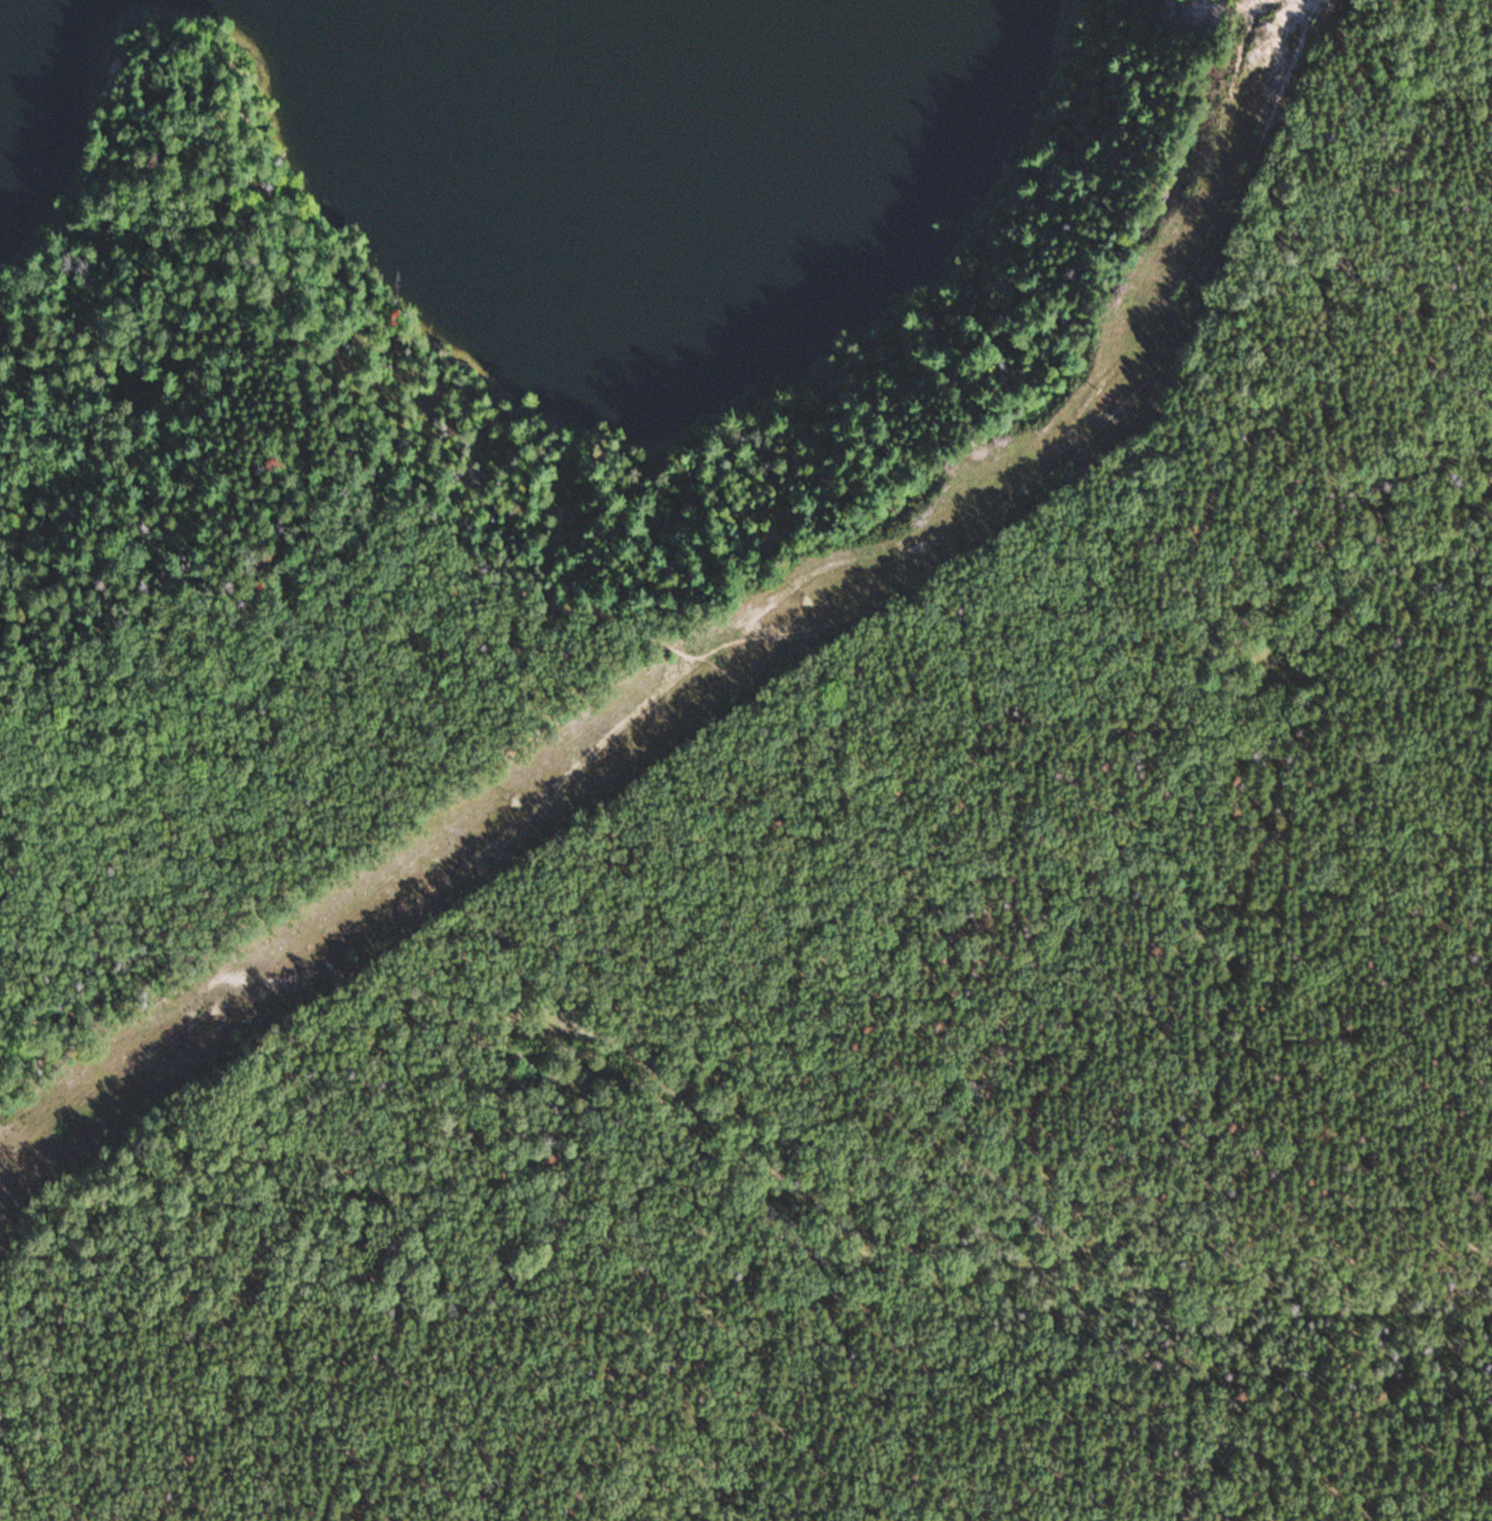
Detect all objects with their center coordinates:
power tower: (1093, 389)
power tower: (796, 598)
road: (797, 629)
power tower: (507, 802)
road: (1152, 804)

